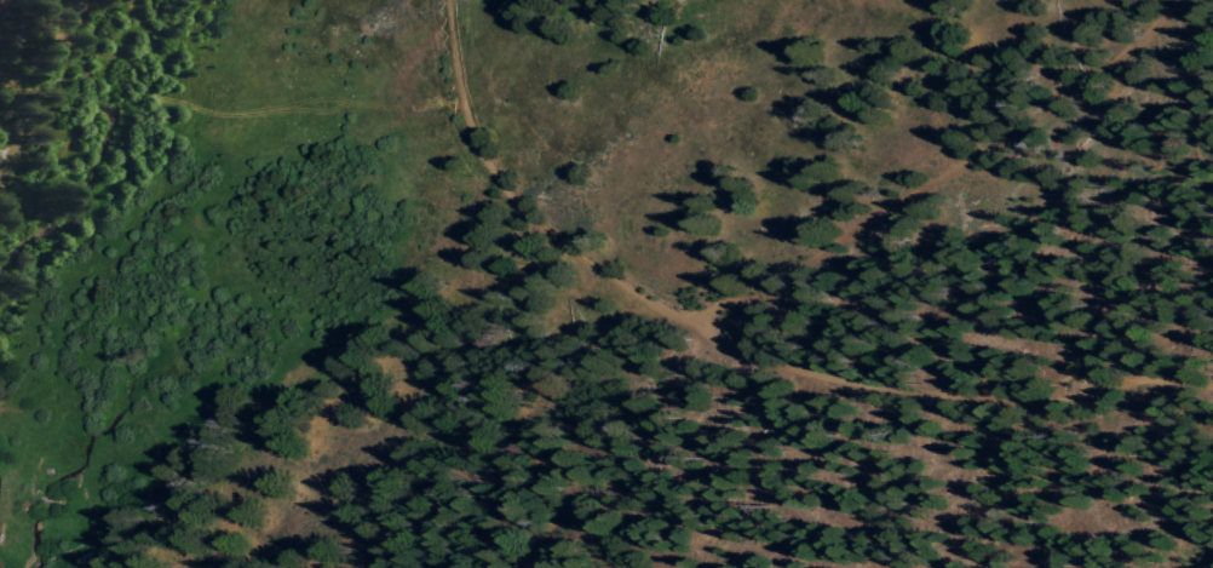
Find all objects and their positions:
road: (941, 173)
road: (510, 201)
road: (944, 394)

